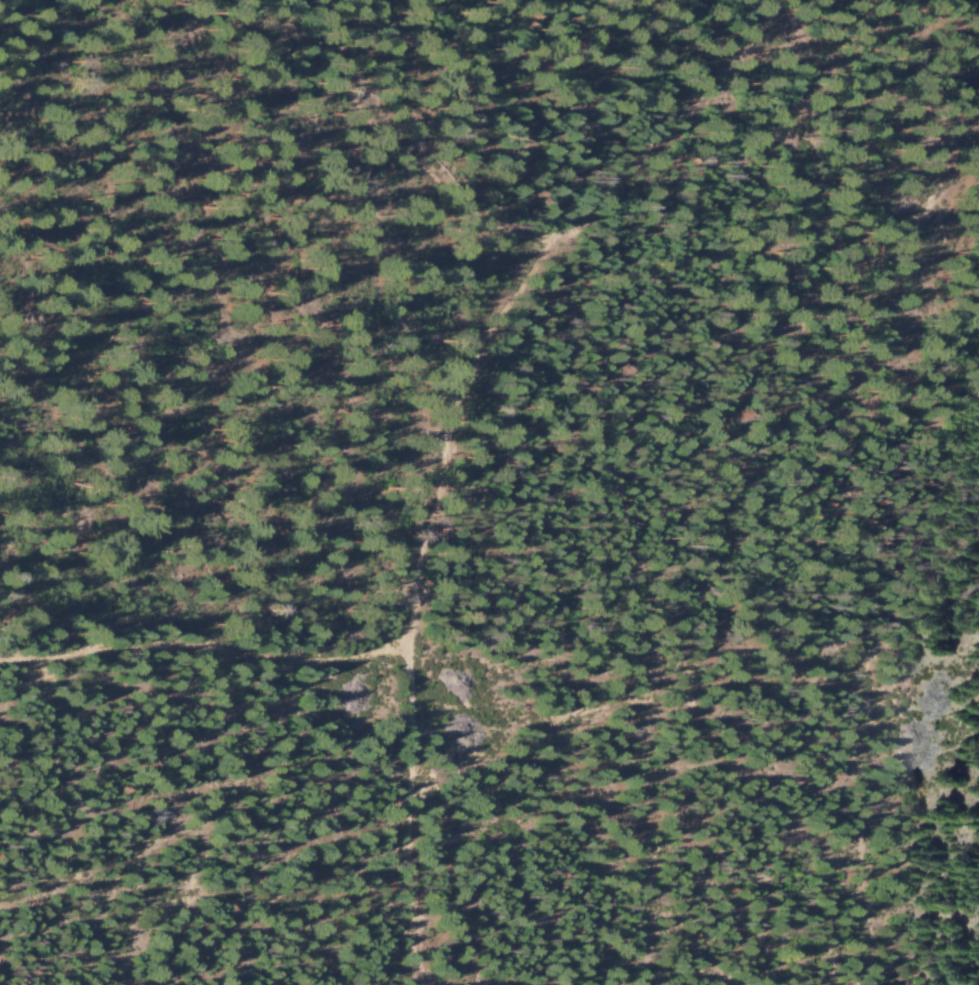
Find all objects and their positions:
road: (406, 154)
road: (449, 434)
road: (206, 652)

